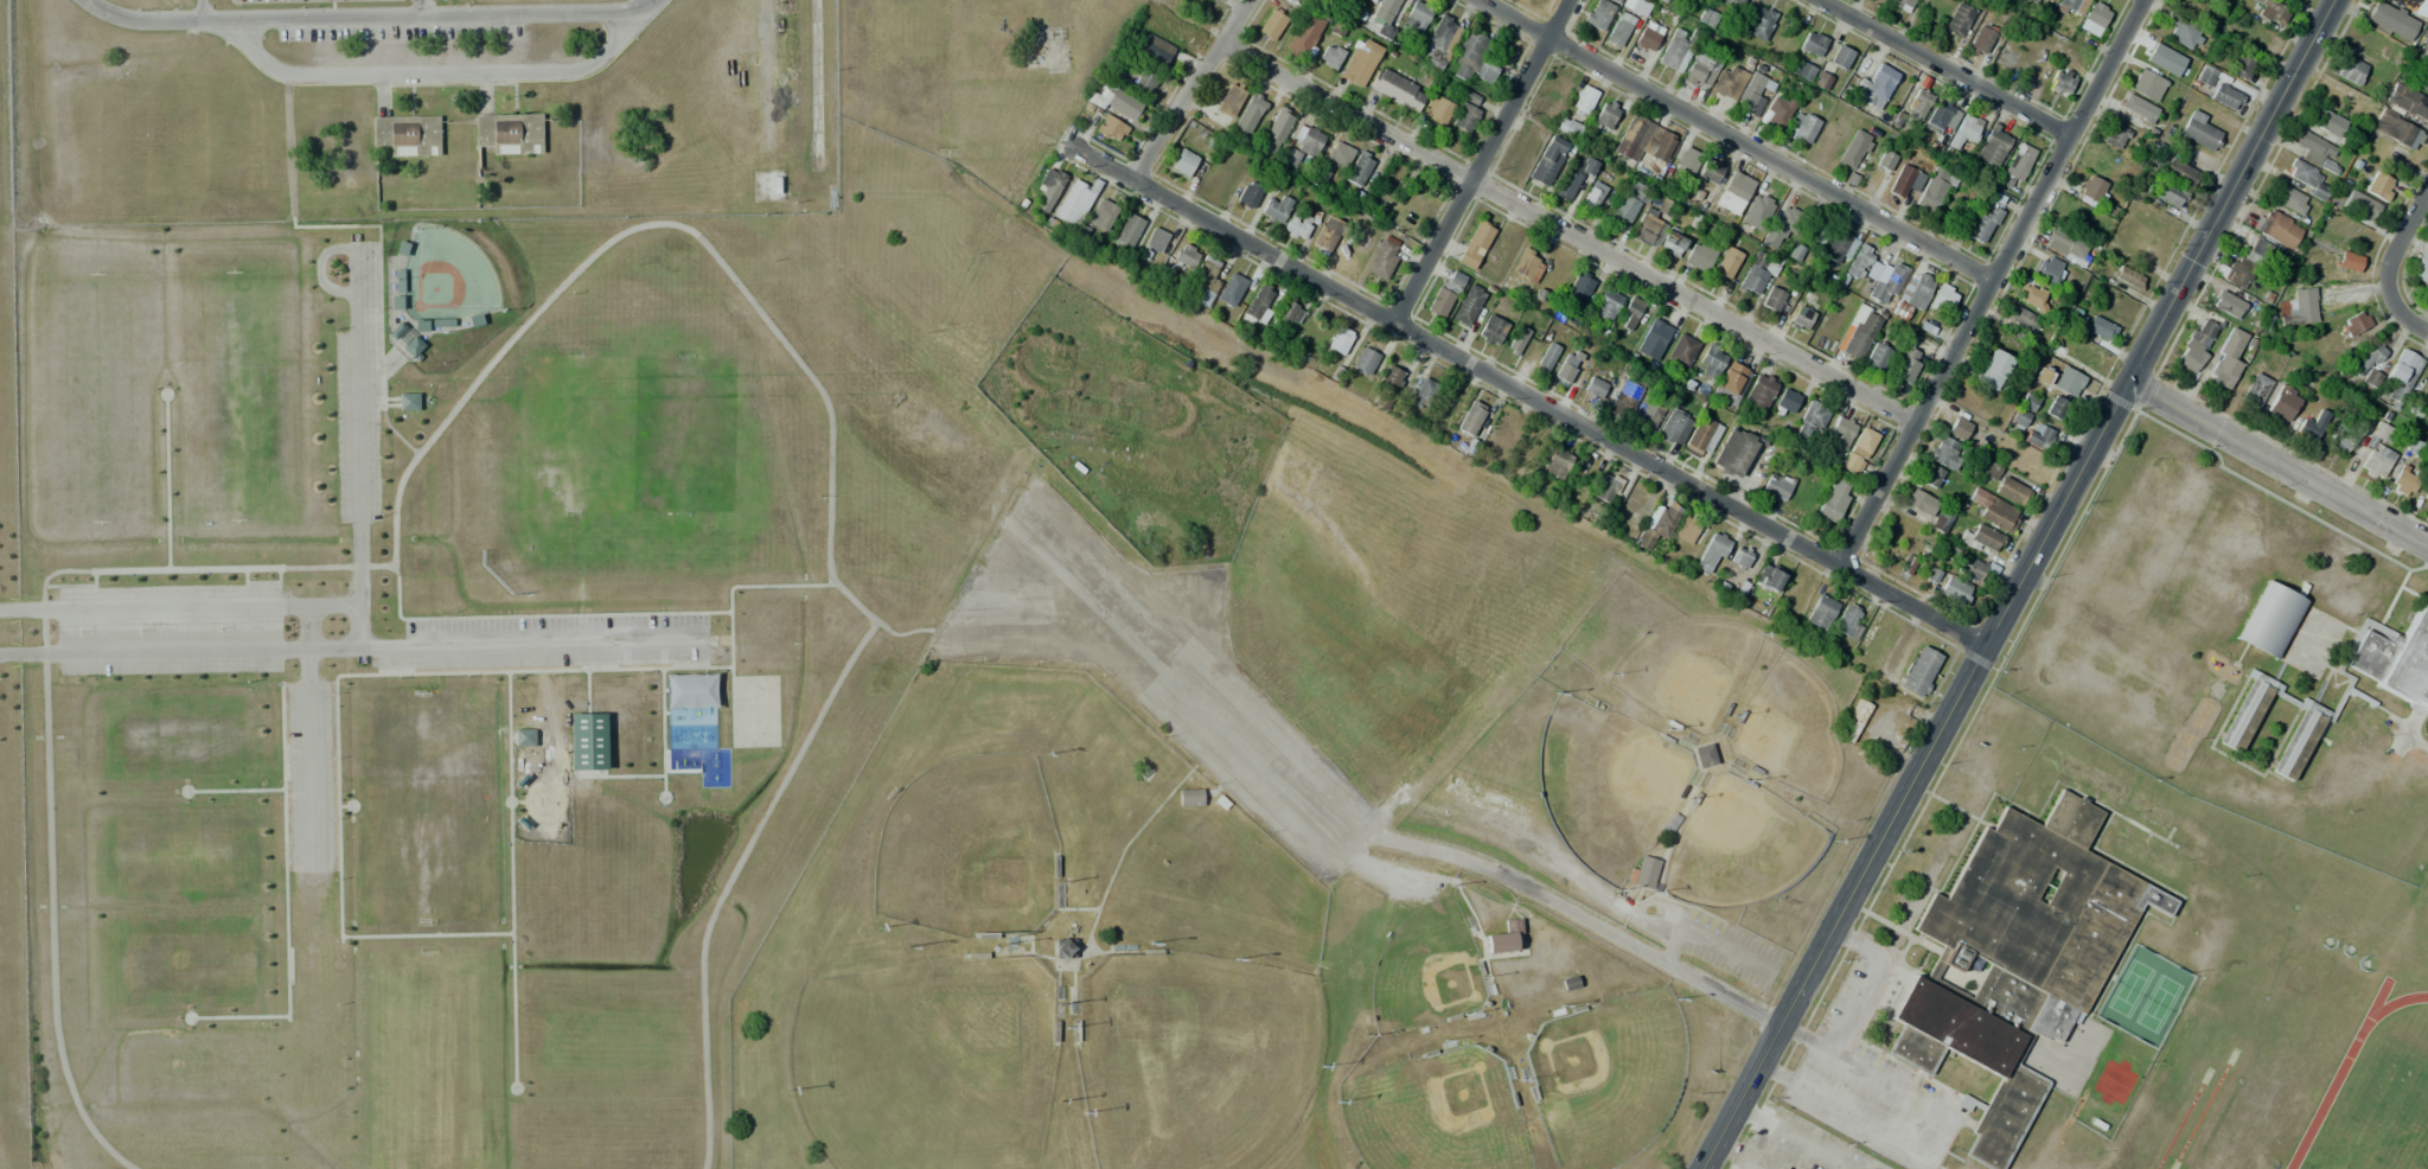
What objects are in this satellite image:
building: (1365, 0)
building: (1614, 1)
building: (1881, 1)
building: (1731, 4)
building: (1900, 4)
building: (2068, 4)
building: (1635, 6)
building: (2413, 6)
road: (423, 8)
road: (200, 11)
building: (2268, 11)
building: (1598, 14)
building: (1416, 17)
road: (369, 18)
building: (1384, 18)
building: (1959, 19)
building: (2092, 19)
building: (1758, 21)
building: (2389, 23)
building: (1271, 24)
building: (1618, 28)
building: (2184, 31)
building: (1443, 34)
building: (1305, 36)
building: (1646, 39)
building: (1980, 39)
building: (1810, 43)
building: (1676, 50)
building: (1154, 51)
building: (2427, 52)
building: (1469, 53)
building: (1330, 56)
building: (1840, 56)
building: (2006, 56)
building: (1360, 62)
building: (2239, 65)
building: (1488, 68)
building: (1697, 69)
road: (1940, 70)
building: (2350, 70)
building: (1803, 71)
road: (437, 72)
building: (2205, 75)
park: (973, 76)
building: (1724, 79)
building: (1820, 81)
building: (2060, 81)
building: (2423, 81)
building: (1144, 82)
building: (2146, 84)
building: (1874, 87)
road: (1191, 90)
building: (1397, 90)
building: (1749, 91)
building: (2224, 97)
building: (1470, 98)
building: (2400, 98)
building: (1229, 101)
building: (1582, 103)
building: (1116, 104)
building: (1917, 104)
building: (2138, 108)
building: (1437, 109)
building: (1778, 111)
building: (1250, 113)
building: (1938, 114)
building: (1605, 115)
building: (1464, 116)
building: (2328, 123)
building: (1801, 127)
building: (1108, 128)
building: (1567, 128)
building: (2396, 129)
building: (1963, 130)
building: (2200, 130)
building: (1276, 132)
building: (509, 133)
building: (405, 135)
building: (2113, 135)
building: (1643, 141)
road: (1737, 142)
building: (1302, 145)
building: (1992, 145)
building: (1852, 148)
building: (2317, 152)
building: (1338, 154)
road: (1481, 158)
building: (1547, 160)
building: (1687, 160)
building: (1884, 161)
building: (1183, 162)
building: (2015, 164)
building: (1360, 168)
building: (1711, 171)
building: (2178, 173)
building: (2304, 178)
building: (1573, 180)
building: (1905, 180)
building: (1050, 184)
building: (1935, 186)
building: (2378, 186)
building: (2089, 191)
building: (1733, 192)
building: (1248, 194)
building: (2166, 194)
building: (1591, 197)
building: (2290, 199)
building: (1074, 202)
building: (1629, 205)
building: (2358, 206)
building: (1274, 210)
building: (1103, 215)
building: (1781, 223)
road: (377, 225)
building: (1982, 225)
building: (1297, 226)
building: (2275, 228)
building: (1648, 229)
building: (1129, 230)
road: (1568, 234)
building: (1813, 234)
road: (2398, 236)
building: (1328, 237)
building: (1155, 239)
building: (1474, 244)
building: (1672, 244)
building: (2065, 245)
building: (1840, 247)
building: (402, 249)
building: (2257, 250)
building: (1186, 255)
building: (1699, 255)
building: (1384, 257)
building: (1859, 261)
building: (2349, 261)
building: (1725, 263)
building: (1527, 264)
building: (2420, 264)
building: (2049, 270)
building: (2237, 273)
building: (1757, 274)
park: (445, 277)
building: (2127, 277)
building: (398, 281)
building: (1205, 281)
building: (1886, 282)
road: (1994, 282)
building: (1578, 288)
building: (1231, 289)
building: (1445, 292)
building: (1912, 294)
building: (2030, 295)
building: (1942, 299)
road: (551, 300)
building: (1772, 300)
building: (396, 302)
building: (1468, 304)
building: (2228, 304)
building: (1259, 305)
building: (1603, 307)
building: (2296, 307)
building: (1631, 309)
road: (2408, 313)
building: (1286, 315)
building: (1801, 317)
building: (2021, 318)
building: (474, 320)
building: (442, 322)
building: (2354, 322)
building: (421, 326)
building: (2095, 326)
building: (1491, 331)
building: (1858, 332)
building: (1651, 339)
building: (1338, 340)
building: (1516, 340)
building: (405, 341)
building: (2198, 341)
building: (1681, 351)
building: (2076, 353)
building: (1547, 356)
building: (1877, 356)
building: (2365, 358)
building: (1365, 360)
building: (2225, 360)
building: (1710, 362)
building: (1906, 365)
building: (1566, 368)
building: (1993, 369)
building: (2401, 373)
building: (2369, 378)
building: (2066, 381)
building: (1731, 384)
building: (1595, 385)
building: (1386, 387)
building: (2255, 390)
building: (1759, 391)
road: (1534, 392)
building: (1421, 394)
building: (1623, 398)
road: (357, 400)
park: (231, 401)
building: (1787, 401)
building: (408, 402)
building: (2027, 402)
park: (98, 403)
building: (2282, 403)
building: (2055, 409)
building: (1648, 415)
building: (1470, 417)
building: (2019, 417)
building: (1810, 419)
building: (2427, 421)
building: (2309, 424)
park: (1133, 427)
building: (1674, 428)
building: (1957, 428)
building: (1839, 433)
building: (2038, 436)
building: (1701, 437)
building: (2337, 443)
building: (1858, 451)
building: (2377, 451)
building: (1732, 452)
building: (1945, 453)
building: (1557, 464)
road: (2280, 465)
building: (1991, 471)
building: (1930, 475)
road: (166, 481)
building: (2403, 481)
building: (1776, 486)
building: (1606, 487)
building: (2011, 492)
building: (2426, 496)
building: (1833, 499)
building: (1919, 502)
building: (1632, 506)
building: (1995, 512)
building: (1941, 518)
building: (1657, 526)
building: (1686, 529)
building: (1979, 538)
building: (1712, 552)
building: (1742, 556)
road: (282, 567)
building: (1968, 567)
building: (1768, 579)
road: (2021, 586)
road: (94, 589)
building: (1954, 590)
road: (210, 605)
building: (1820, 612)
building: (2269, 619)
building: (1846, 625)
park: (608, 628)
road: (60, 631)
road: (717, 641)
road: (382, 647)
road: (625, 657)
road: (1190, 660)
building: (2397, 662)
building: (1919, 671)
road: (336, 683)
park: (754, 710)
park: (690, 713)
building: (2247, 714)
building: (1853, 721)
building: (2356, 726)
park: (173, 733)
road: (311, 736)
building: (524, 737)
building: (587, 741)
building: (2300, 742)
road: (296, 752)
building: (1704, 758)
building: (2059, 760)
building: (2103, 786)
road: (232, 791)
road: (298, 796)
building: (1189, 798)
road: (510, 803)
park: (424, 809)
building: (2147, 810)
road: (50, 823)
building: (2122, 841)
park: (966, 848)
park: (175, 851)
building: (2157, 860)
building: (1642, 871)
road: (730, 879)
road: (283, 896)
road: (1586, 918)
building: (1504, 938)
building: (1065, 947)
building: (2017, 957)
park: (180, 959)
park: (1424, 970)
building: (2091, 1029)
park: (426, 1059)
park: (1193, 1059)
park: (924, 1063)
park: (1605, 1078)
park: (1433, 1114)
park: (1796, 1145)

